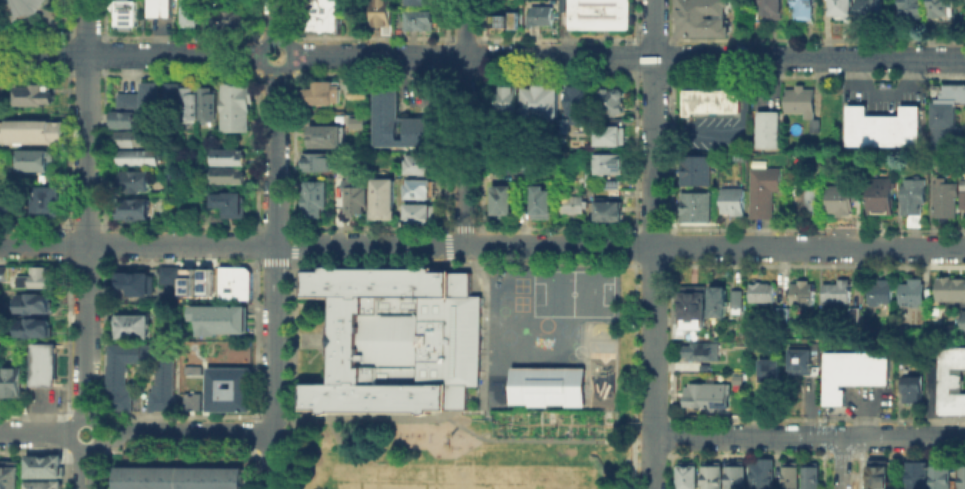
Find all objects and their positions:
building: (422, 3)
building: (840, 7)
building: (21, 8)
building: (160, 8)
building: (802, 8)
building: (942, 8)
building: (770, 9)
building: (911, 9)
building: (870, 10)
building: (124, 14)
building: (191, 14)
building: (384, 14)
building: (538, 14)
building: (597, 14)
building: (325, 17)
building: (702, 17)
building: (227, 18)
road: (277, 20)
building: (502, 20)
building: (423, 21)
road: (130, 55)
road: (628, 55)
road: (291, 58)
road: (424, 71)
building: (357, 87)
building: (325, 92)
building: (34, 94)
building: (618, 95)
building: (140, 96)
building: (177, 96)
building: (799, 100)
building: (193, 102)
building: (510, 102)
building: (709, 102)
building: (545, 105)
building: (210, 106)
building: (580, 108)
building: (239, 110)
building: (945, 112)
building: (385, 116)
building: (132, 121)
road: (465, 122)
building: (883, 127)
building: (566, 128)
building: (767, 129)
building: (31, 130)
building: (420, 130)
building: (610, 134)
building: (325, 135)
building: (510, 137)
building: (138, 141)
building: (31, 159)
building: (141, 159)
building: (231, 161)
building: (315, 161)
building: (416, 163)
building: (612, 165)
building: (508, 166)
building: (695, 170)
building: (229, 174)
building: (591, 180)
building: (138, 183)
building: (961, 184)
building: (618, 187)
building: (416, 188)
building: (349, 189)
building: (763, 190)
building: (879, 195)
building: (911, 195)
building: (314, 196)
building: (382, 197)
building: (838, 197)
building: (45, 198)
building: (943, 198)
building: (732, 199)
building: (809, 199)
building: (961, 200)
building: (4, 201)
building: (231, 203)
building: (504, 205)
building: (543, 205)
building: (695, 205)
building: (575, 207)
road: (86, 208)
building: (139, 209)
building: (417, 212)
building: (611, 212)
road: (654, 244)
road: (482, 245)
building: (168, 274)
building: (4, 276)
building: (38, 279)
building: (196, 280)
road: (275, 280)
building: (130, 282)
building: (232, 282)
building: (952, 291)
building: (840, 293)
building: (884, 293)
building: (915, 293)
building: (766, 294)
building: (806, 295)
building: (739, 300)
building: (35, 304)
building: (723, 304)
building: (694, 313)
building: (857, 316)
building: (785, 317)
building: (221, 319)
building: (962, 324)
building: (132, 325)
building: (36, 329)
building: (400, 342)
building: (704, 353)
building: (804, 363)
building: (47, 366)
building: (771, 372)
building: (853, 374)
building: (951, 382)
building: (14, 384)
building: (546, 386)
building: (161, 387)
building: (229, 389)
building: (914, 389)
building: (709, 398)
parking lot: (869, 402)
road: (86, 417)
road: (462, 427)
road: (35, 433)
road: (189, 433)
road: (809, 435)
road: (841, 462)
building: (46, 466)
road: (86, 469)
building: (714, 474)
building: (762, 475)
building: (881, 475)
building: (916, 475)
park: (460, 476)
building: (689, 476)
building: (183, 477)
building: (737, 477)
building: (942, 477)
building: (11, 478)
building: (792, 478)
building: (810, 478)
building: (964, 478)
building: (46, 486)

